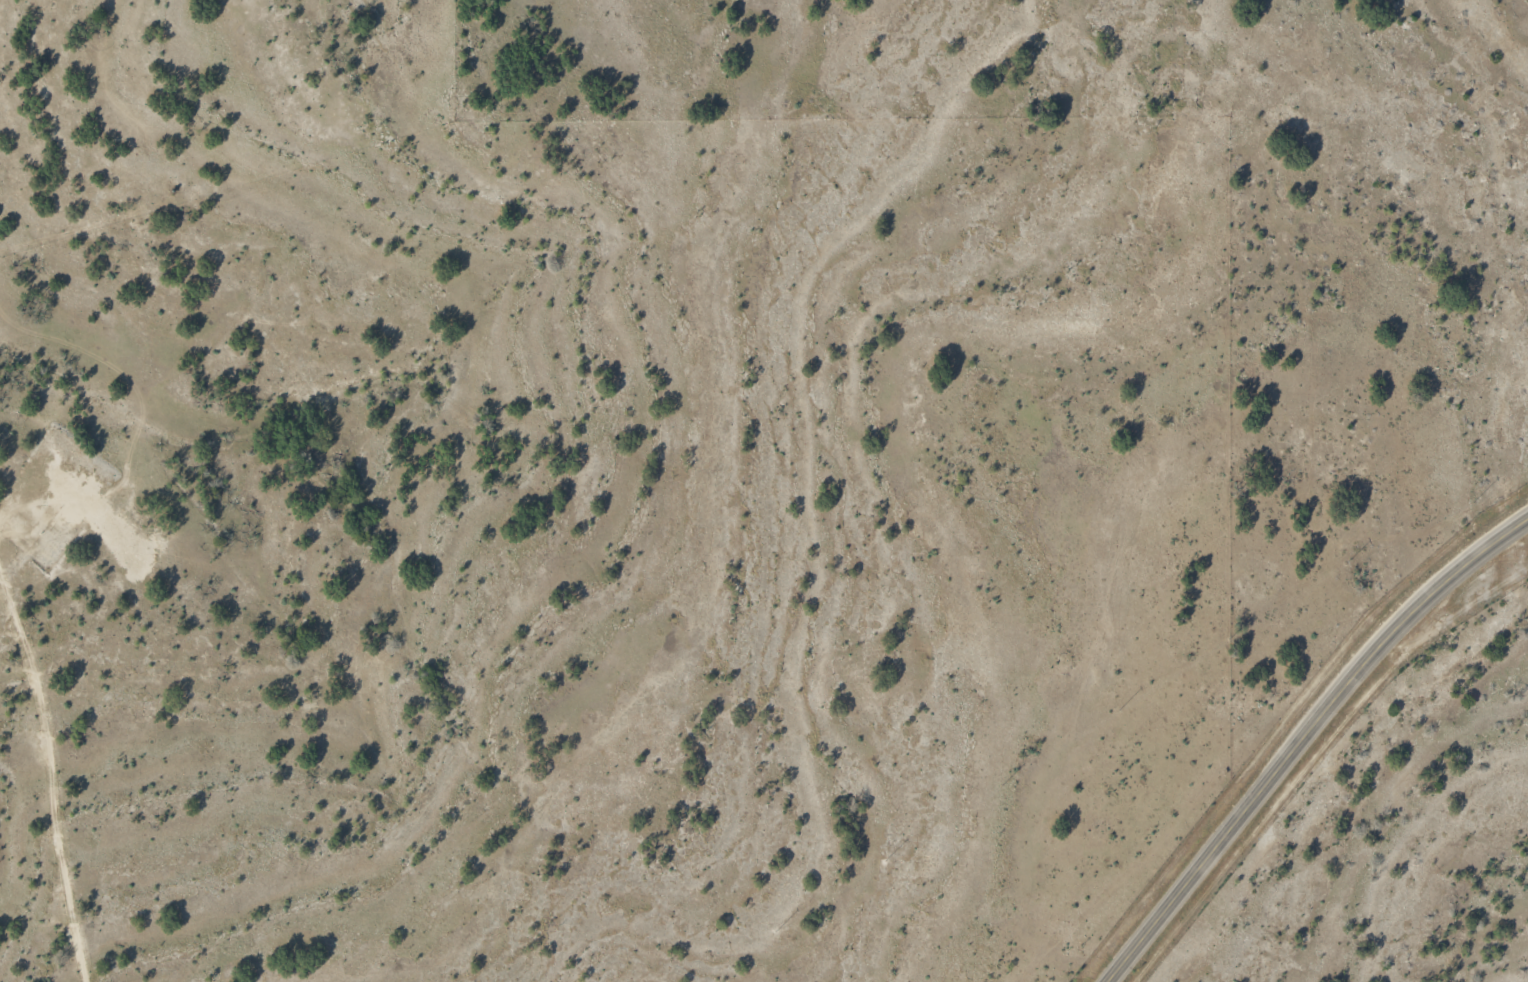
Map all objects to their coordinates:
road: (1311, 739)

